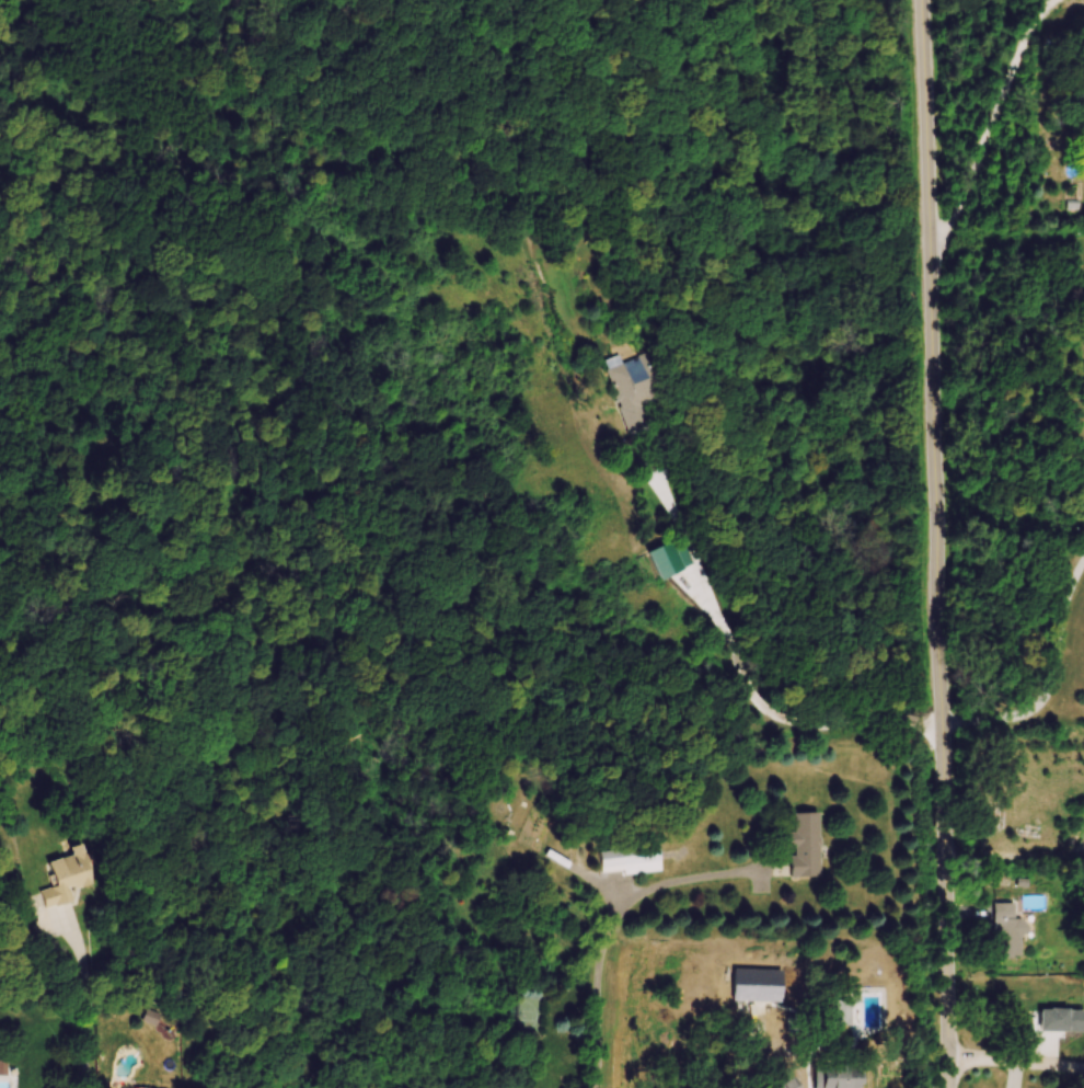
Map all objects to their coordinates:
building: (1080, 96)
road: (995, 121)
building: (634, 389)
road: (937, 543)
building: (673, 559)
road: (724, 629)
road: (1052, 680)
building: (807, 846)
building: (631, 861)
building: (69, 877)
road: (614, 921)
building: (1008, 932)
road: (87, 998)
building: (844, 1013)
building: (1063, 1021)
road: (1016, 1064)
building: (840, 1077)
building: (791, 1085)

